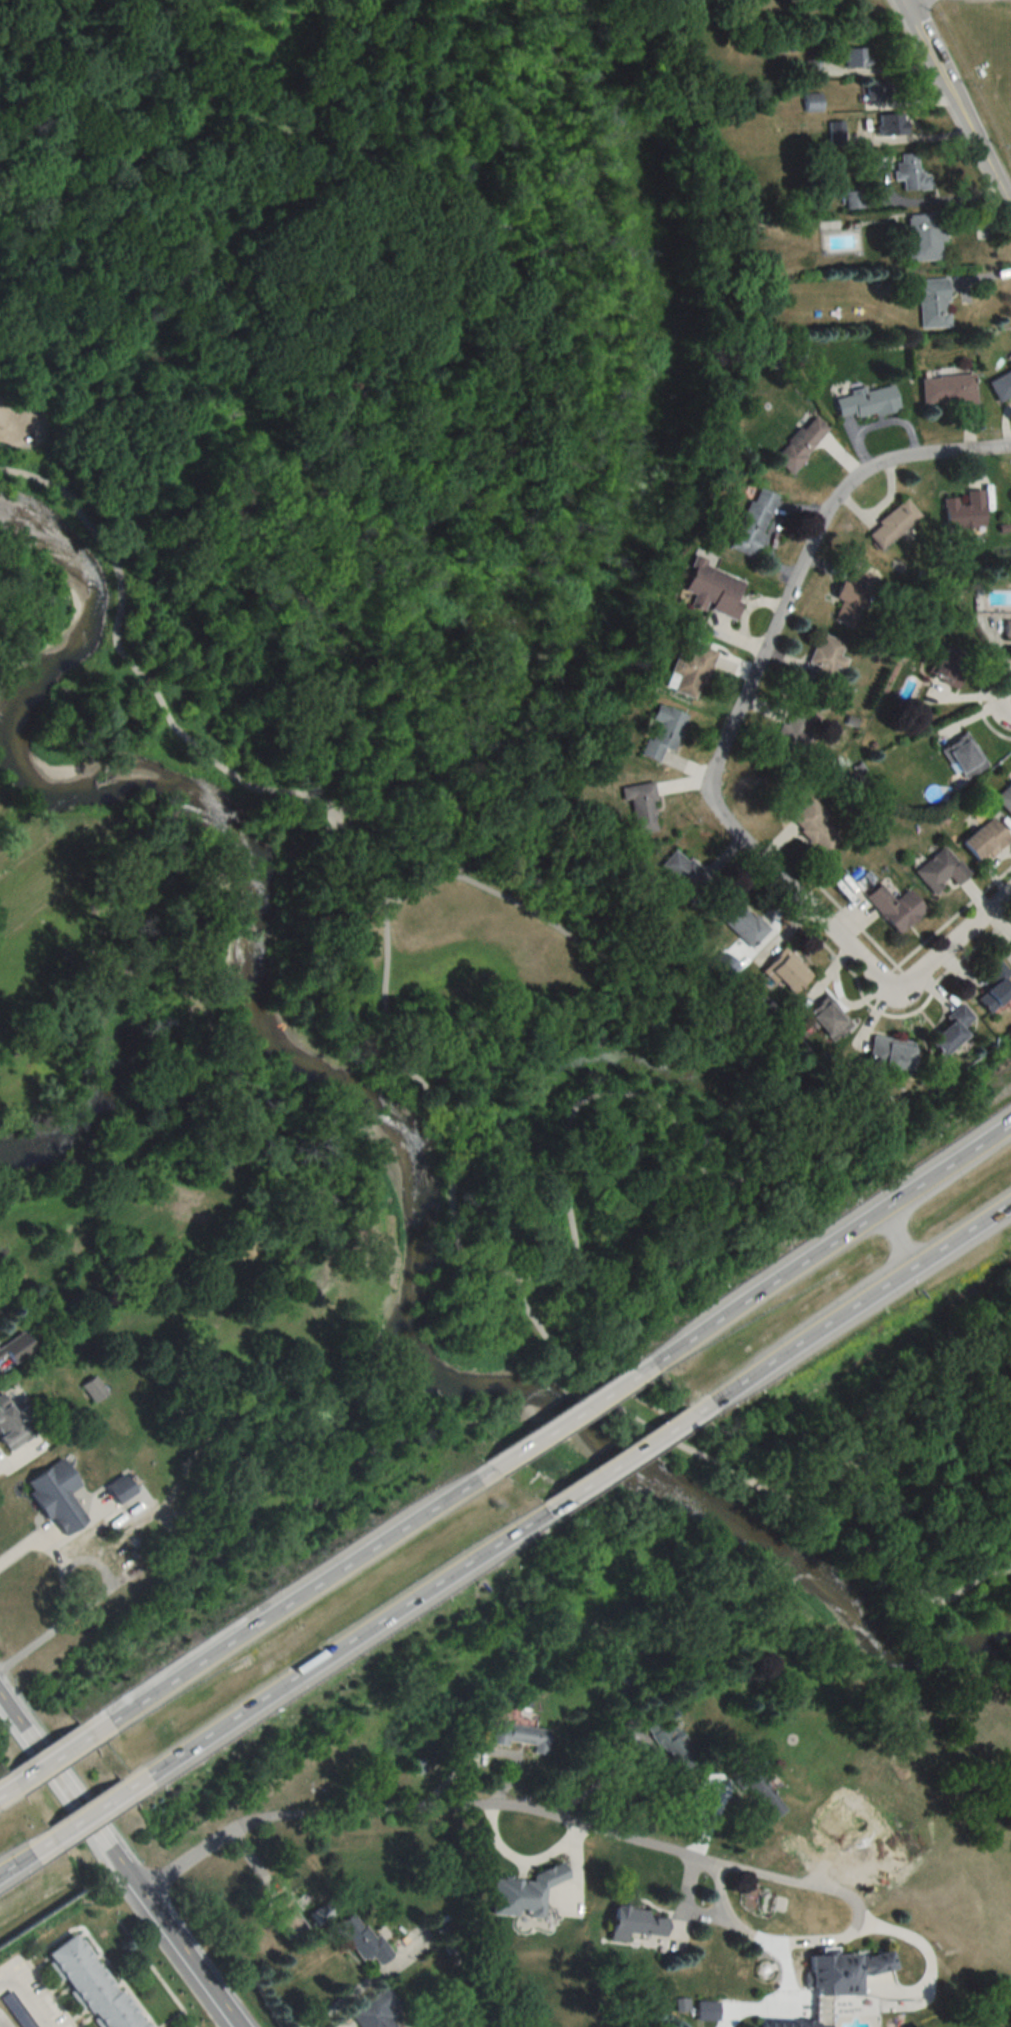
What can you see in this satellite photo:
building: (855, 56)
building: (875, 89)
building: (812, 102)
road: (959, 102)
building: (891, 123)
building: (836, 131)
building: (909, 172)
building: (853, 198)
building: (923, 236)
road: (516, 277)
building: (930, 301)
building: (1009, 362)
building: (1000, 385)
building: (946, 389)
building: (864, 401)
parking lot: (23, 424)
road: (18, 429)
building: (797, 442)
building: (962, 511)
building: (752, 522)
building: (891, 524)
building: (710, 589)
building: (851, 597)
park: (376, 606)
building: (1006, 626)
building: (825, 658)
building: (946, 666)
building: (688, 669)
building: (662, 734)
building: (792, 738)
road: (720, 747)
building: (962, 756)
building: (1004, 798)
building: (640, 807)
building: (812, 827)
building: (982, 840)
building: (938, 870)
building: (683, 875)
building: (893, 907)
building: (739, 920)
building: (1010, 945)
building: (786, 972)
building: (993, 987)
building: (825, 1019)
building: (949, 1029)
building: (888, 1053)
road: (438, 1104)
road: (777, 1122)
river: (397, 1160)
road: (898, 1235)
road: (822, 1247)
road: (850, 1305)
building: (14, 1348)
road: (864, 1381)
building: (91, 1390)
road: (561, 1419)
building: (11, 1426)
road: (619, 1459)
park: (886, 1479)
building: (55, 1498)
road: (83, 1586)
road: (287, 1601)
road: (335, 1647)
building: (518, 1734)
building: (671, 1743)
road: (49, 1759)
building: (415, 1766)
road: (6, 1788)
building: (759, 1790)
road: (491, 1803)
road: (87, 1812)
building: (836, 1825)
road: (25, 1852)
road: (120, 1860)
road: (519, 1860)
building: (521, 1893)
building: (319, 1915)
road: (729, 1915)
building: (633, 1923)
building: (286, 1924)
building: (362, 1940)
road: (777, 1951)
building: (841, 1970)
building: (89, 1984)
road: (29, 1992)
building: (707, 2010)
building: (373, 2011)
building: (786, 2023)
road: (1, 2025)

